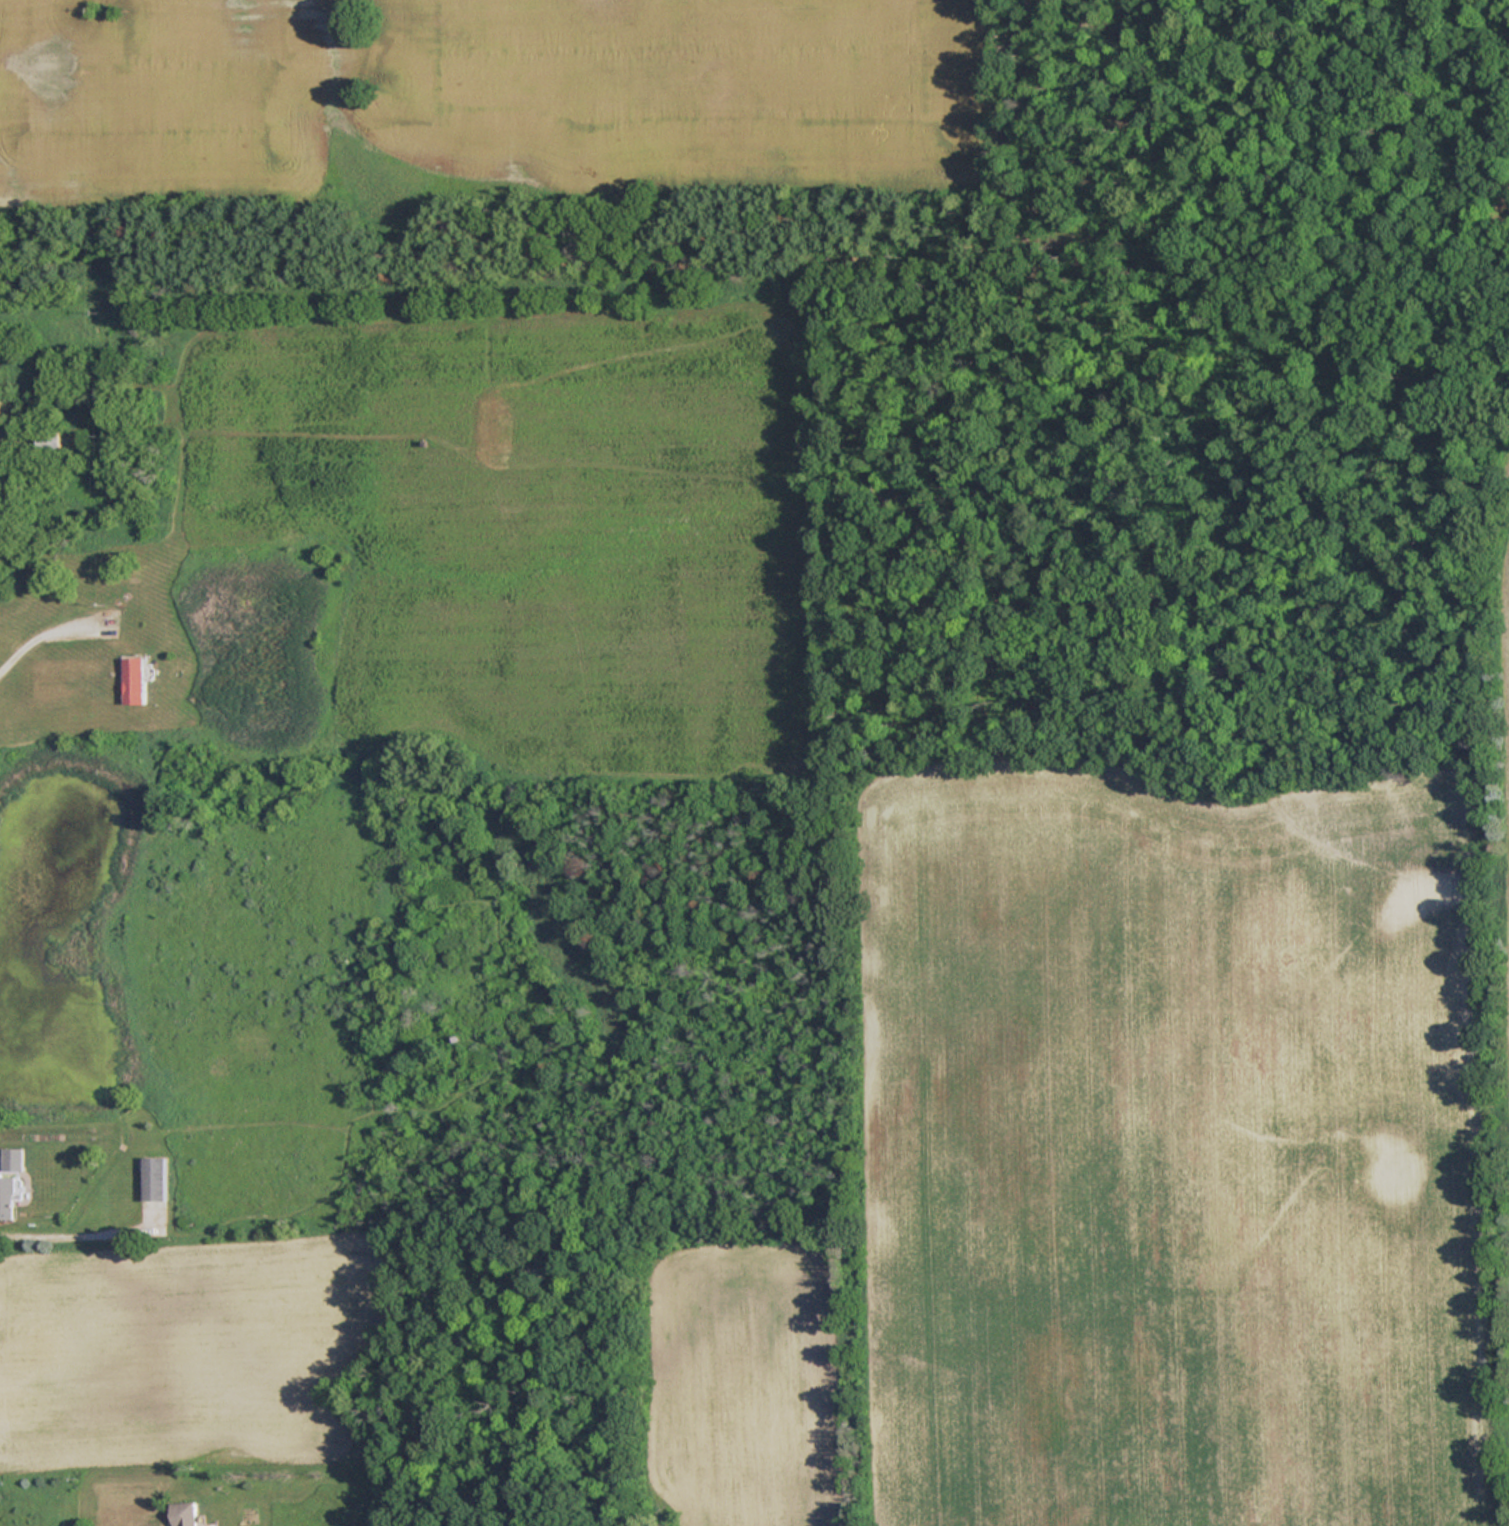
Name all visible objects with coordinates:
building: (48, 441)
road: (24, 643)
building: (132, 679)
building: (152, 1179)
building: (6, 1198)
road: (73, 1235)
building: (181, 1514)

